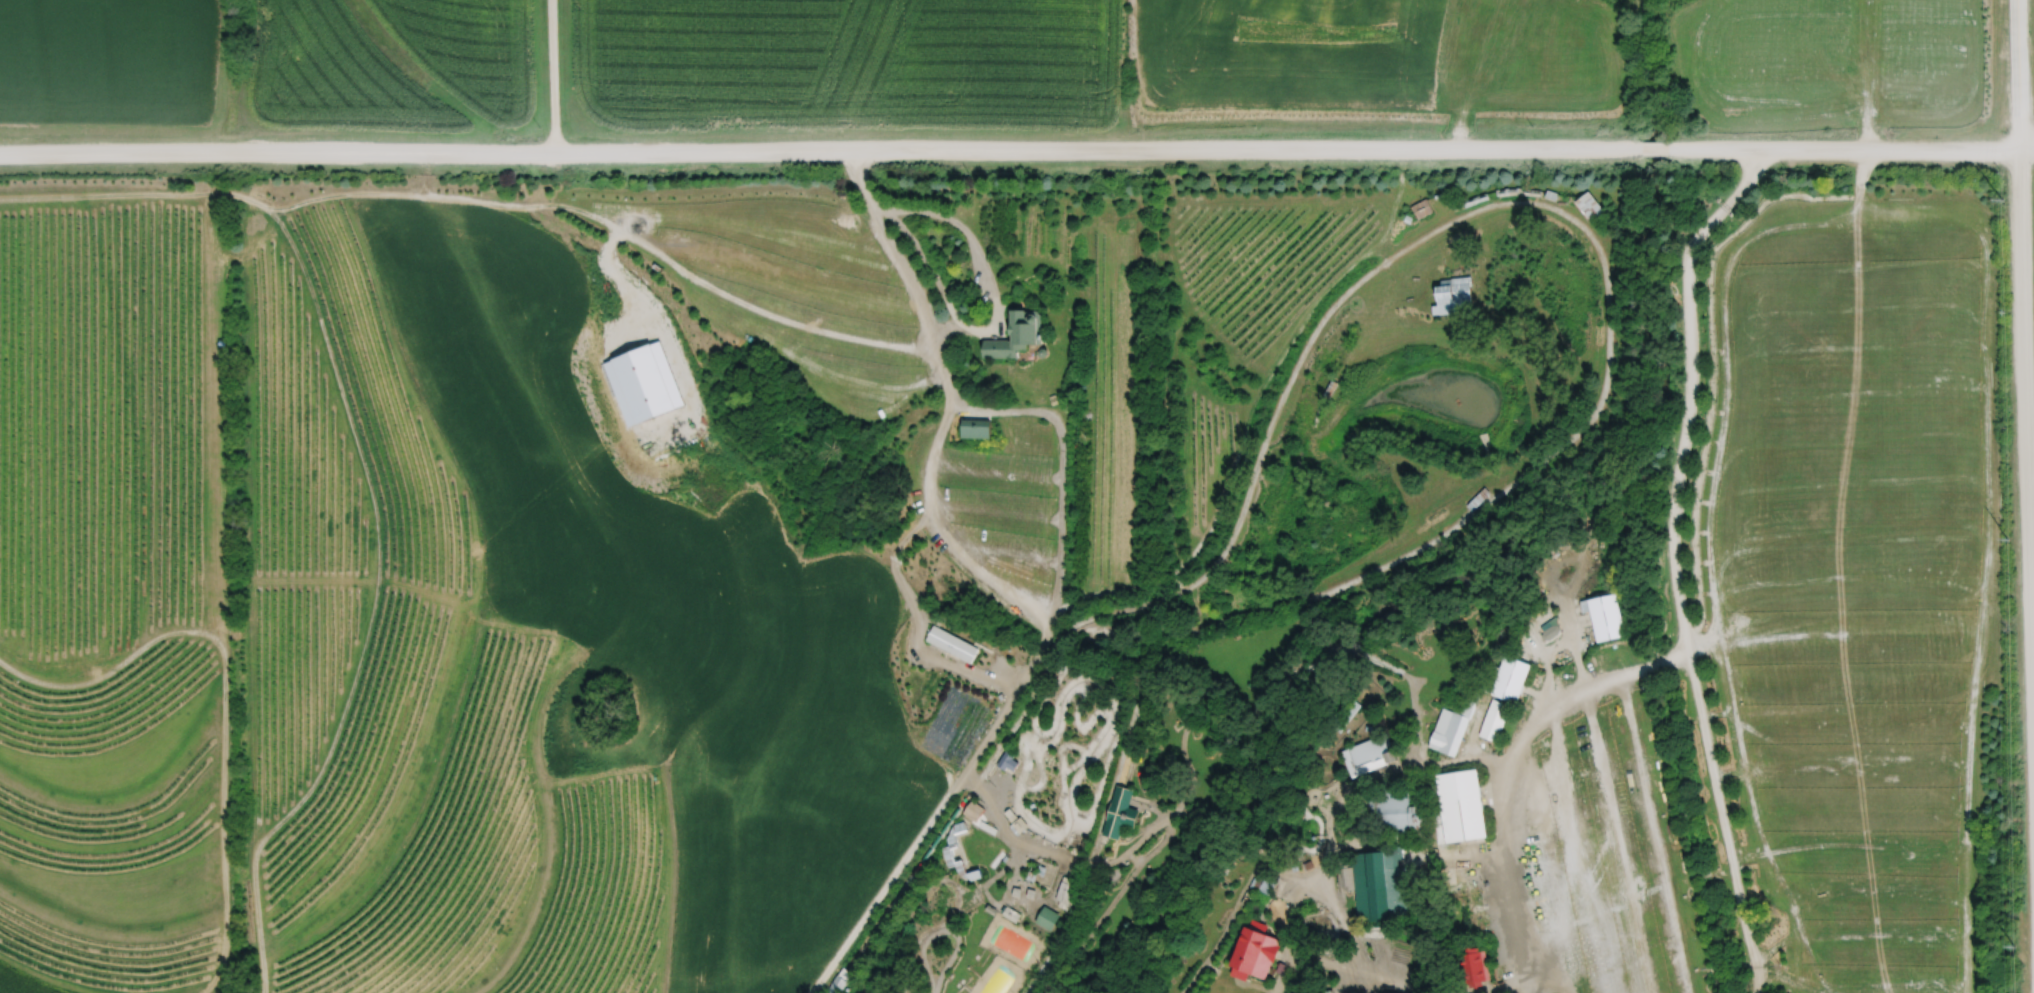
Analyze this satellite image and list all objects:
crop: (815, 69)
road: (1866, 74)
road: (551, 76)
road: (1654, 147)
road: (819, 149)
road: (1850, 149)
road: (862, 187)
power tower: (2002, 201)
building: (1589, 207)
building: (1421, 209)
road: (964, 326)
building: (1016, 337)
road: (2024, 411)
road: (996, 472)
road: (994, 511)
road: (940, 524)
power tower: (2007, 540)
road: (1673, 561)
road: (1052, 576)
parking lot: (1852, 579)
theme park: (1132, 597)
road: (910, 623)
building: (1506, 679)
building: (1345, 715)
building: (1495, 720)
building: (1452, 727)
building: (1368, 755)
building: (1008, 760)
road: (1499, 770)
building: (1461, 804)
building: (1119, 812)
building: (1394, 813)
parking lot: (1600, 857)
building: (1267, 883)
building: (1375, 886)
building: (1065, 892)
building: (1047, 917)
power tower: (2017, 930)
road: (1218, 936)
building: (1473, 967)
road: (1346, 975)
road: (1340, 983)
road: (1495, 984)
building: (1321, 991)

